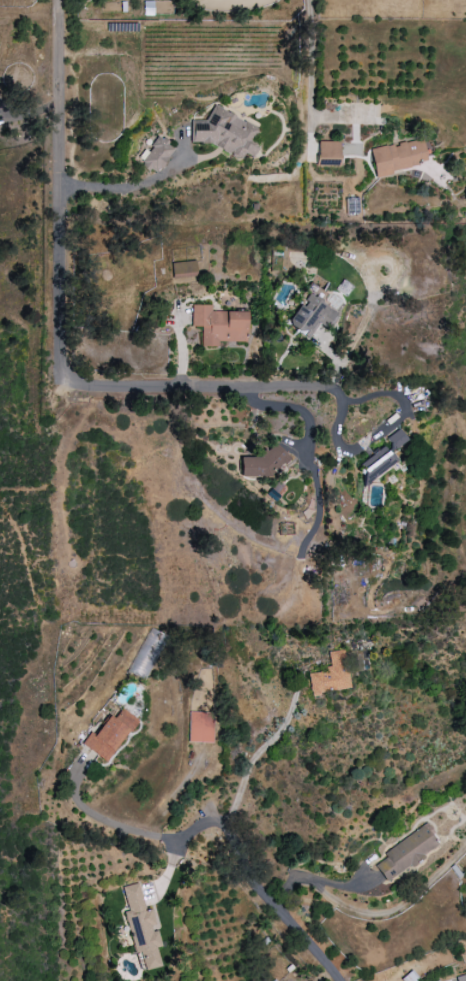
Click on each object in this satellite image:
road: (309, 80)
road: (31, 113)
road: (342, 113)
building: (225, 133)
building: (327, 153)
building: (155, 154)
building: (398, 157)
road: (133, 187)
road: (63, 188)
building: (182, 269)
building: (310, 316)
building: (218, 325)
road: (309, 387)
building: (396, 439)
building: (265, 462)
building: (376, 464)
road: (27, 489)
building: (147, 654)
building: (330, 675)
building: (200, 727)
building: (108, 735)
road: (265, 747)
road: (94, 816)
building: (407, 852)
road: (313, 877)
road: (253, 881)
road: (392, 909)
building: (140, 927)
building: (409, 977)
building: (461, 978)

